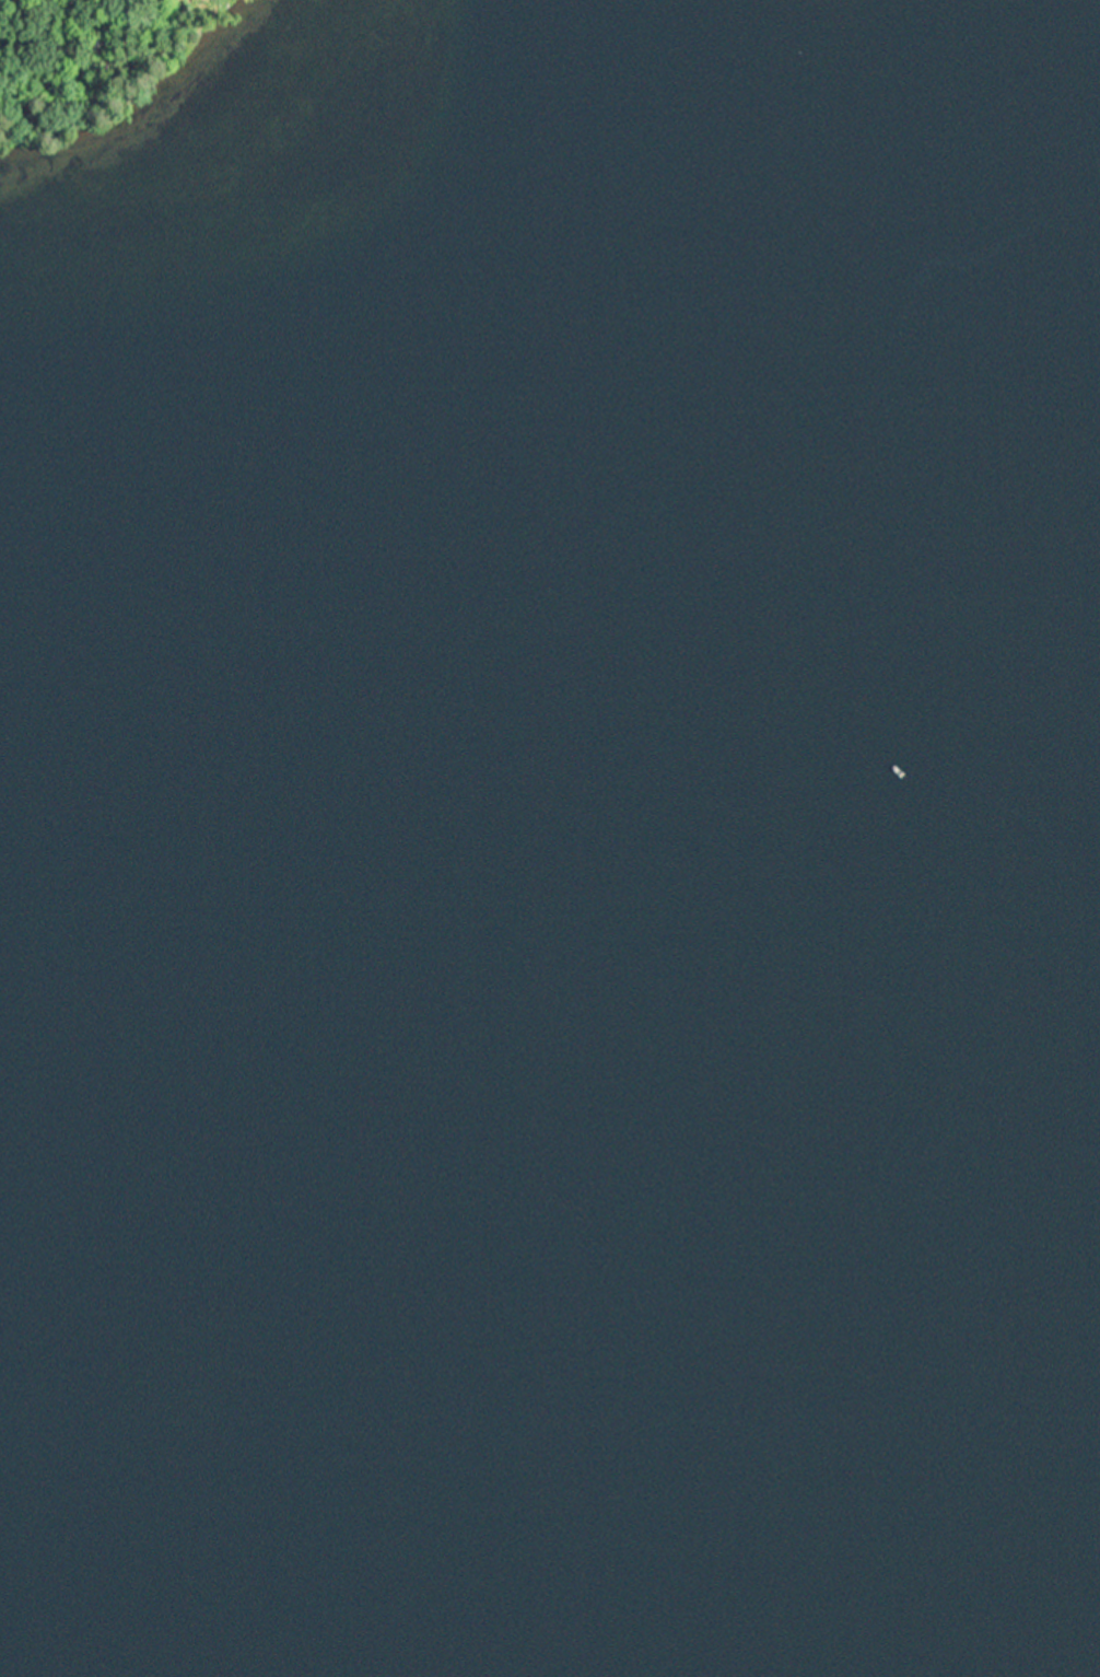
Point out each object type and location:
river: (553, 1406)

